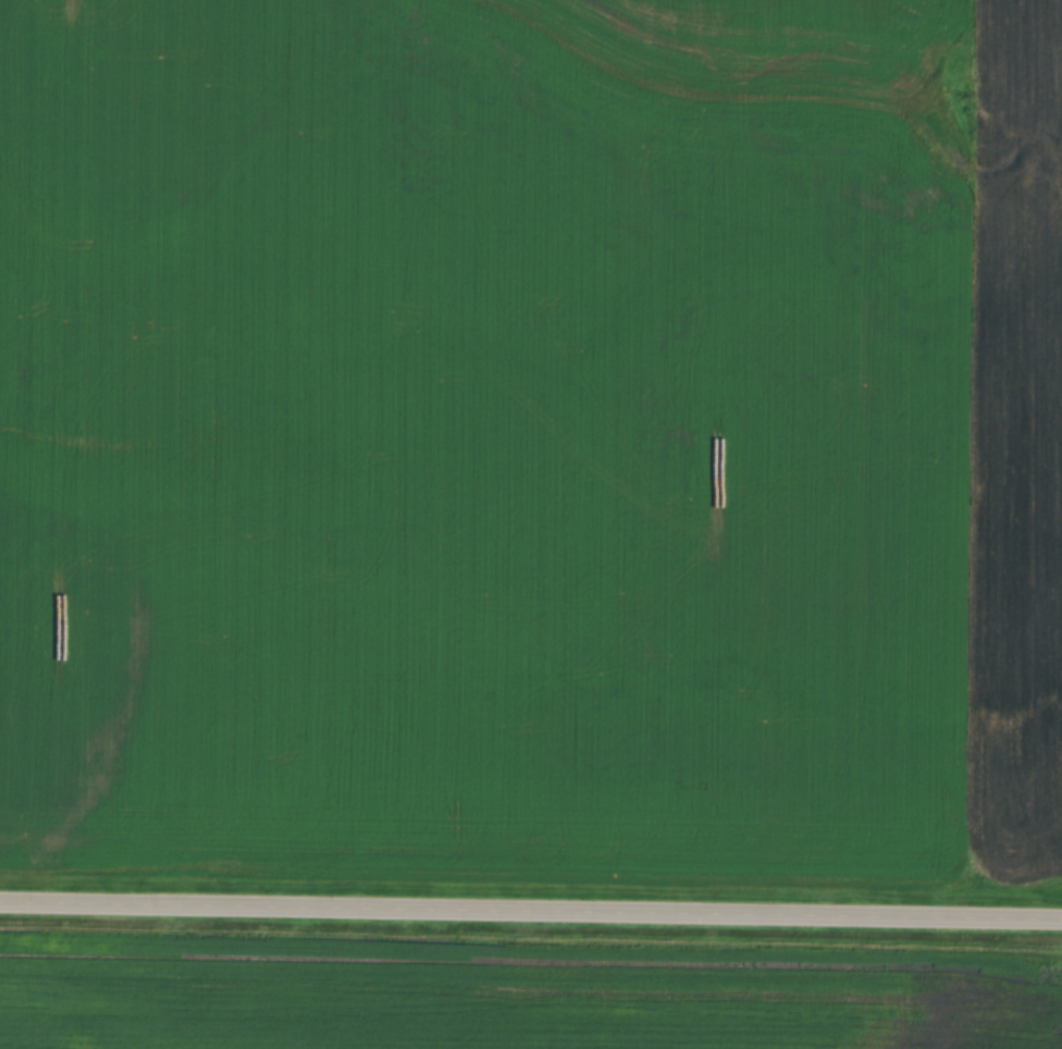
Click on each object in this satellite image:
road: (530, 920)

